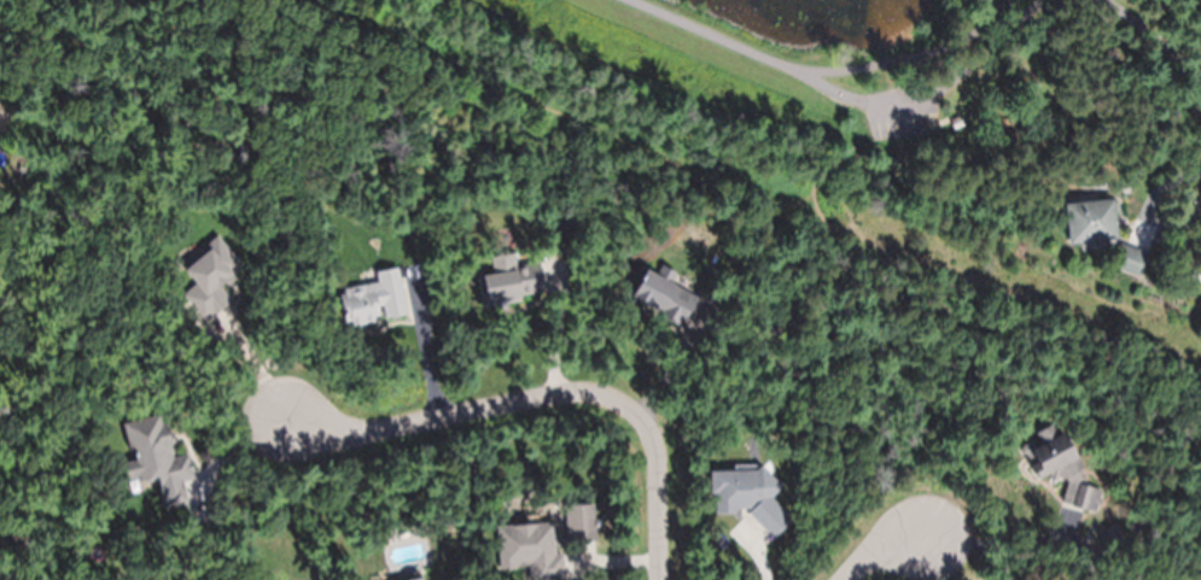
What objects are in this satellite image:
road: (1049, 19)
road: (821, 72)
park: (909, 78)
road: (841, 95)
parking lot: (903, 111)
building: (956, 122)
building: (1110, 219)
building: (1130, 257)
building: (210, 279)
building: (511, 281)
building: (664, 297)
building: (374, 300)
road: (547, 396)
building: (156, 459)
building: (1061, 469)
building: (579, 523)
road: (882, 549)
building: (529, 550)
building: (419, 579)

